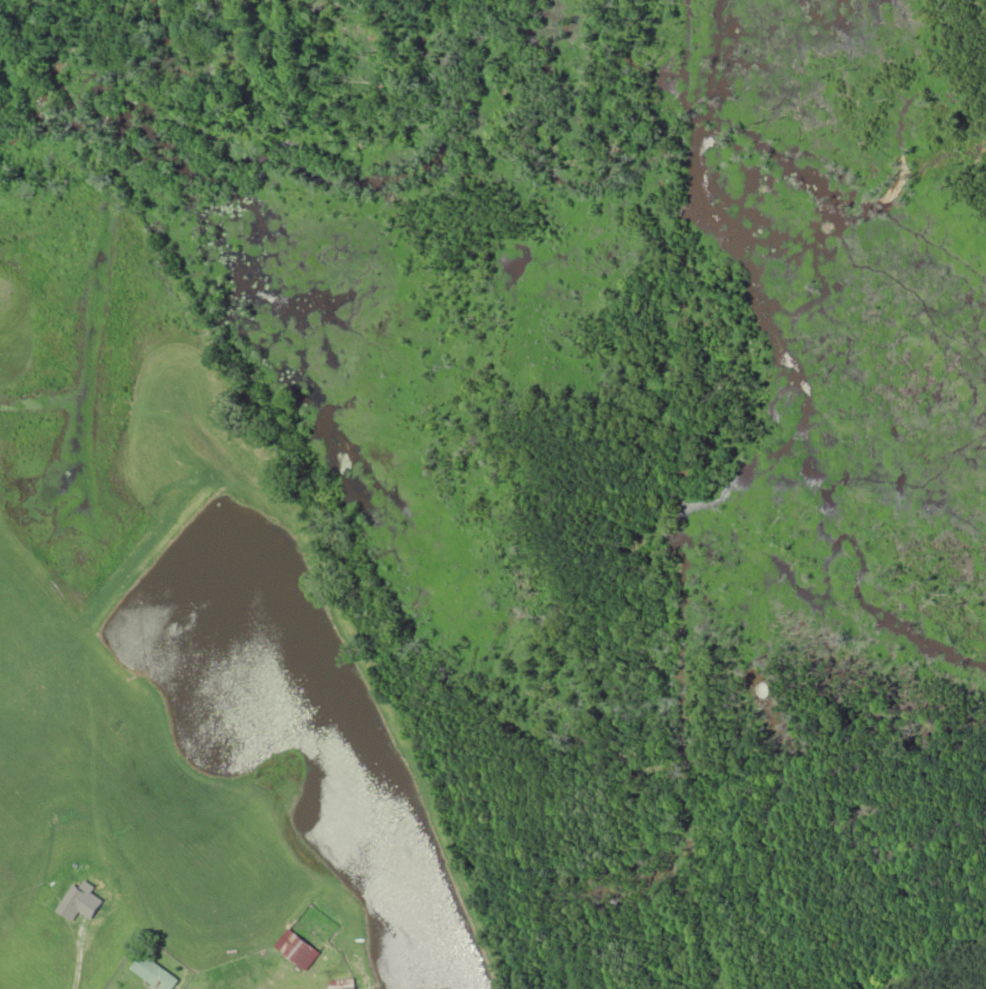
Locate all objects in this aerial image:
building: (296, 950)
building: (153, 972)
building: (342, 984)

